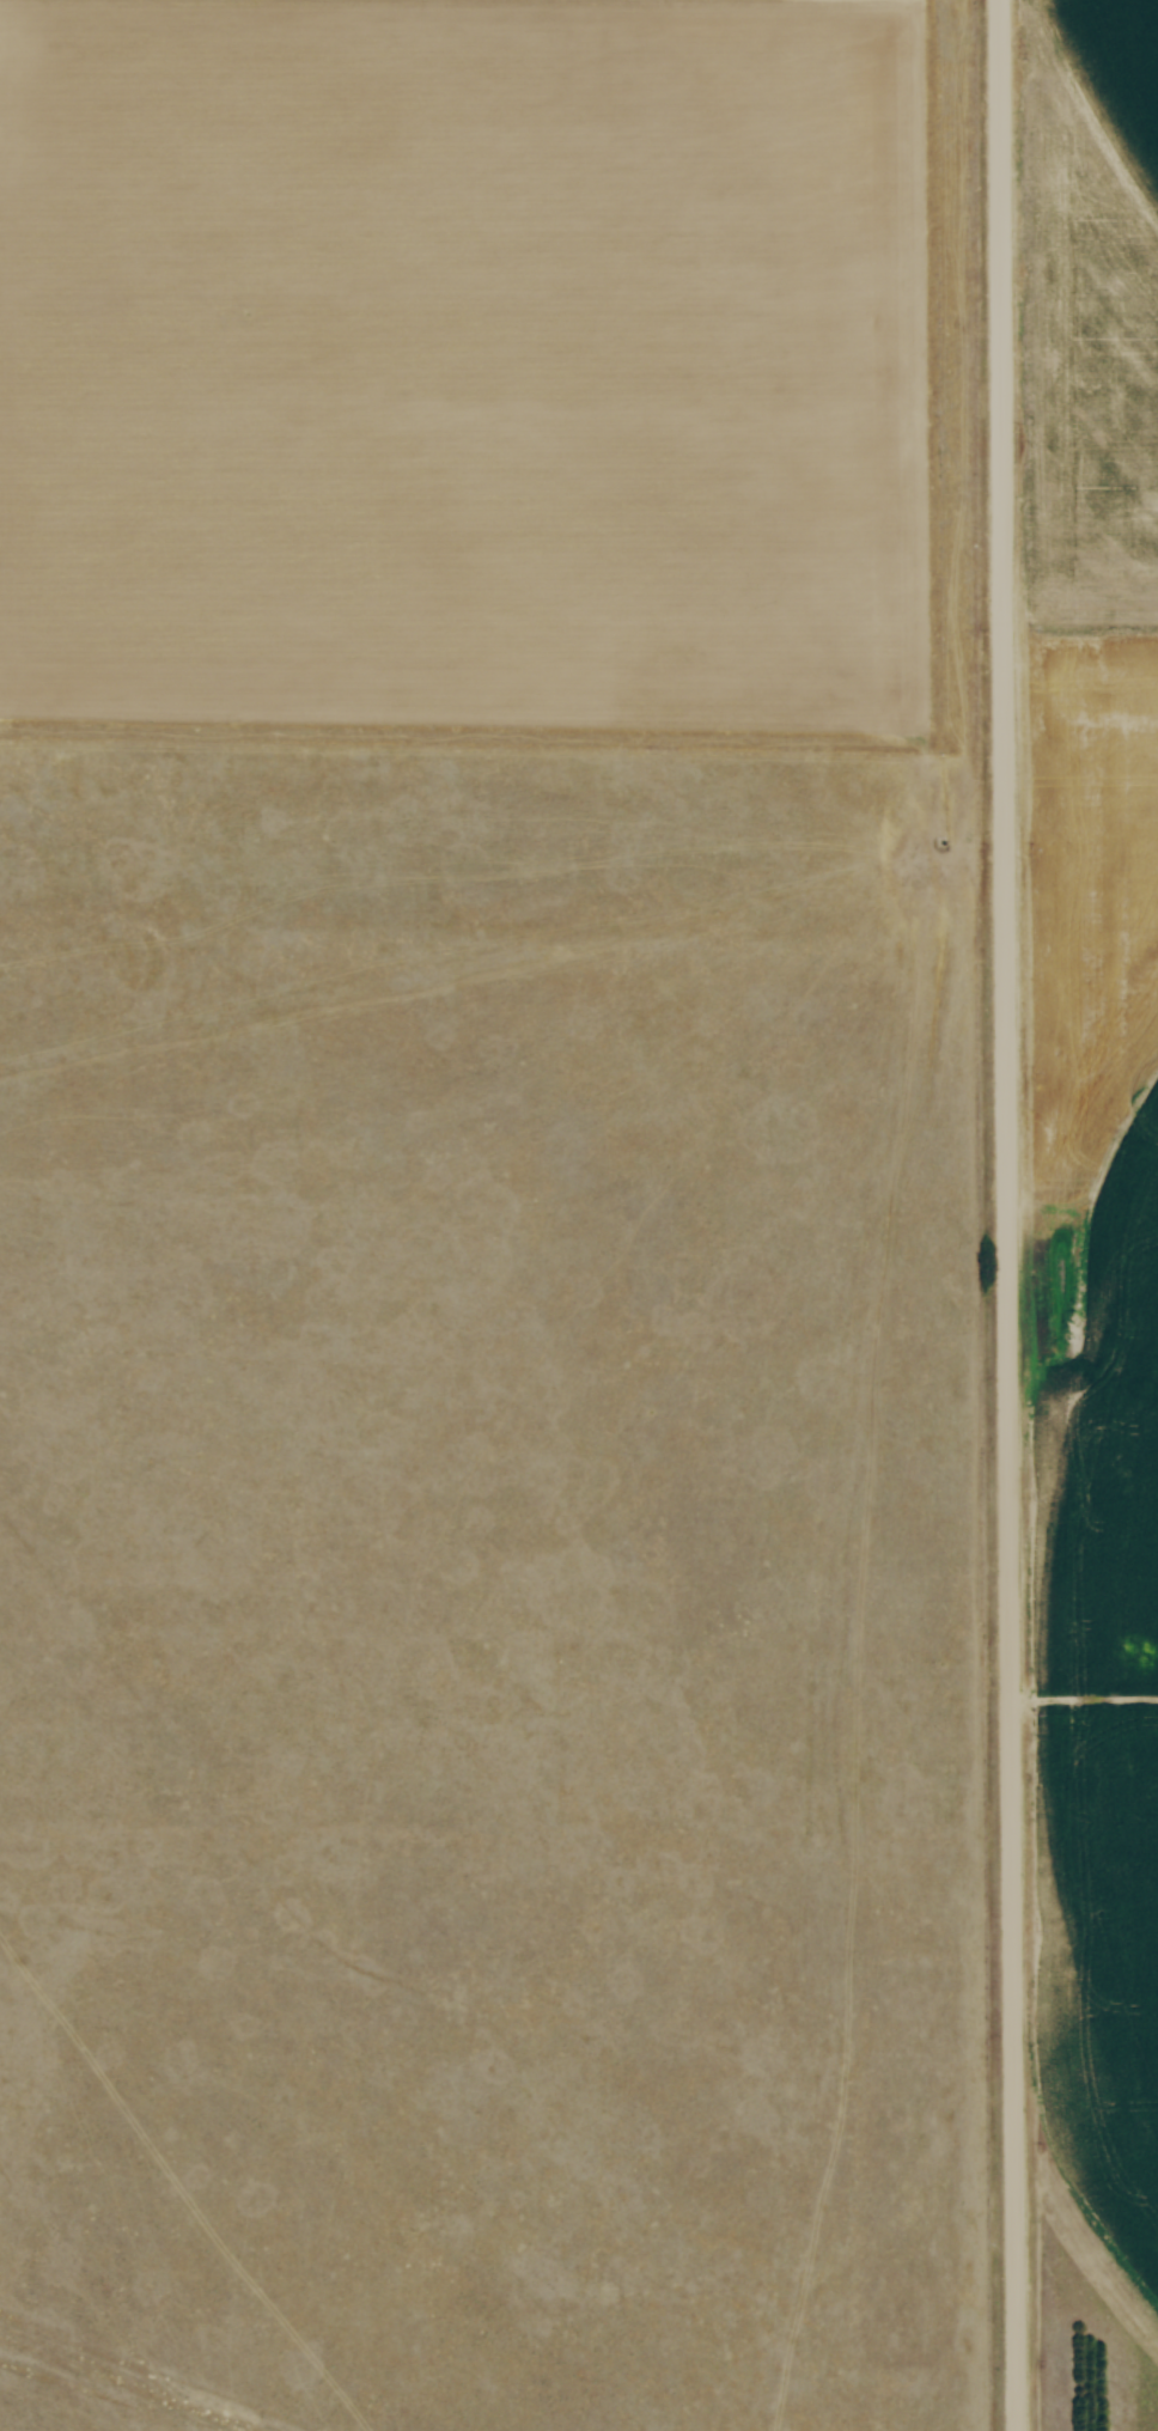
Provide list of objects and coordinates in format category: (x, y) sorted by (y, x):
road: (1007, 1215)

